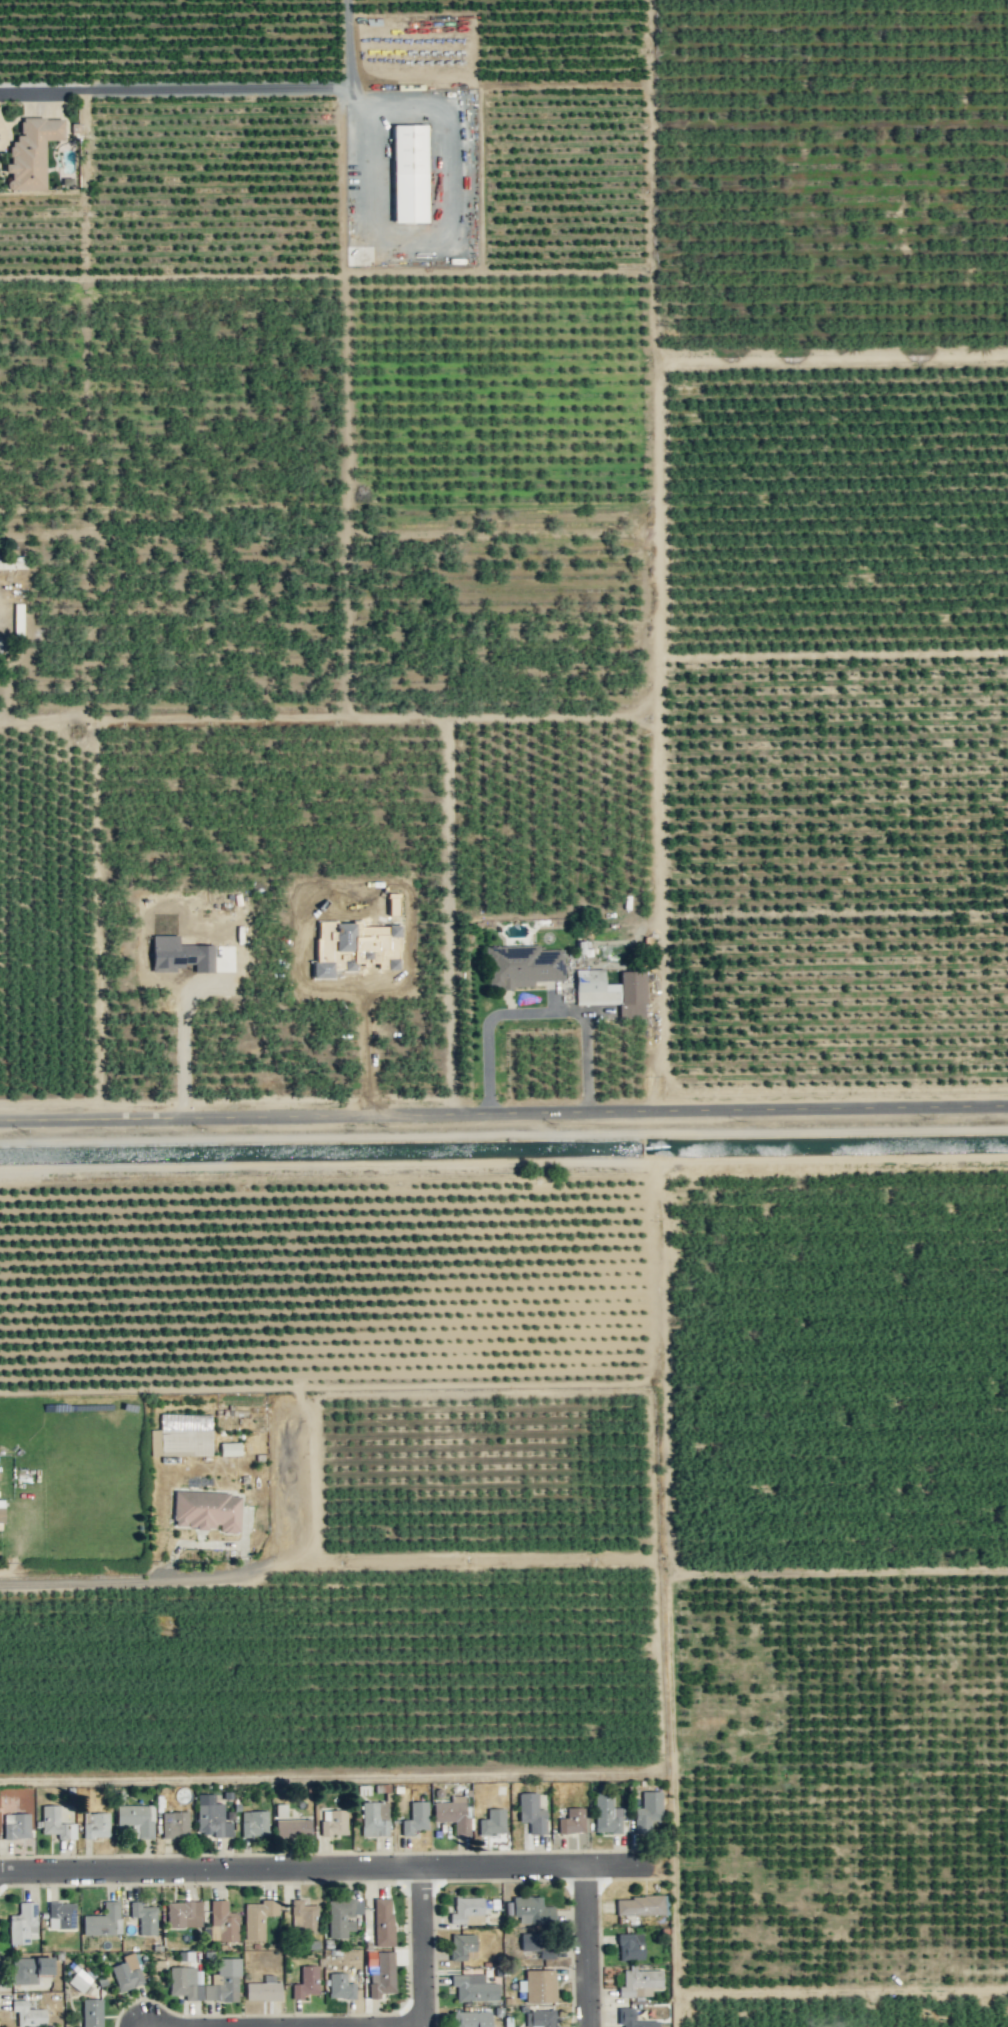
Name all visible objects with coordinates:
road: (348, 57)
road: (174, 88)
building: (31, 152)
building: (409, 173)
road: (446, 242)
building: (11, 562)
road: (4, 687)
road: (194, 716)
building: (393, 903)
building: (355, 947)
building: (180, 954)
building: (522, 966)
building: (612, 991)
road: (538, 1011)
road: (180, 1051)
road: (503, 1112)
building: (230, 1448)
building: (207, 1510)
building: (1, 1515)
road: (123, 1579)
building: (648, 1811)
building: (531, 1813)
building: (453, 1814)
building: (606, 1814)
building: (211, 1817)
building: (136, 1818)
building: (374, 1818)
building: (415, 1818)
building: (571, 1821)
building: (55, 1823)
building: (254, 1823)
building: (333, 1823)
building: (492, 1823)
building: (174, 1824)
building: (16, 1826)
building: (96, 1826)
building: (292, 1828)
road: (335, 1865)
building: (639, 1905)
building: (467, 1910)
building: (531, 1911)
building: (183, 1913)
building: (61, 1915)
building: (342, 1916)
building: (143, 1917)
building: (257, 1917)
building: (303, 1917)
building: (103, 1920)
building: (383, 1921)
building: (222, 1922)
building: (22, 1923)
building: (539, 1944)
road: (427, 1945)
road: (590, 1945)
building: (462, 1946)
building: (630, 1946)
building: (29, 1969)
building: (126, 1972)
building: (382, 1975)
building: (79, 1980)
building: (224, 1981)
building: (185, 1982)
building: (305, 1982)
building: (639, 1982)
building: (340, 1986)
building: (538, 1986)
building: (473, 1987)
building: (262, 1991)
building: (91, 2012)
building: (28, 2014)
building: (540, 2018)
building: (470, 2019)
building: (633, 2019)

